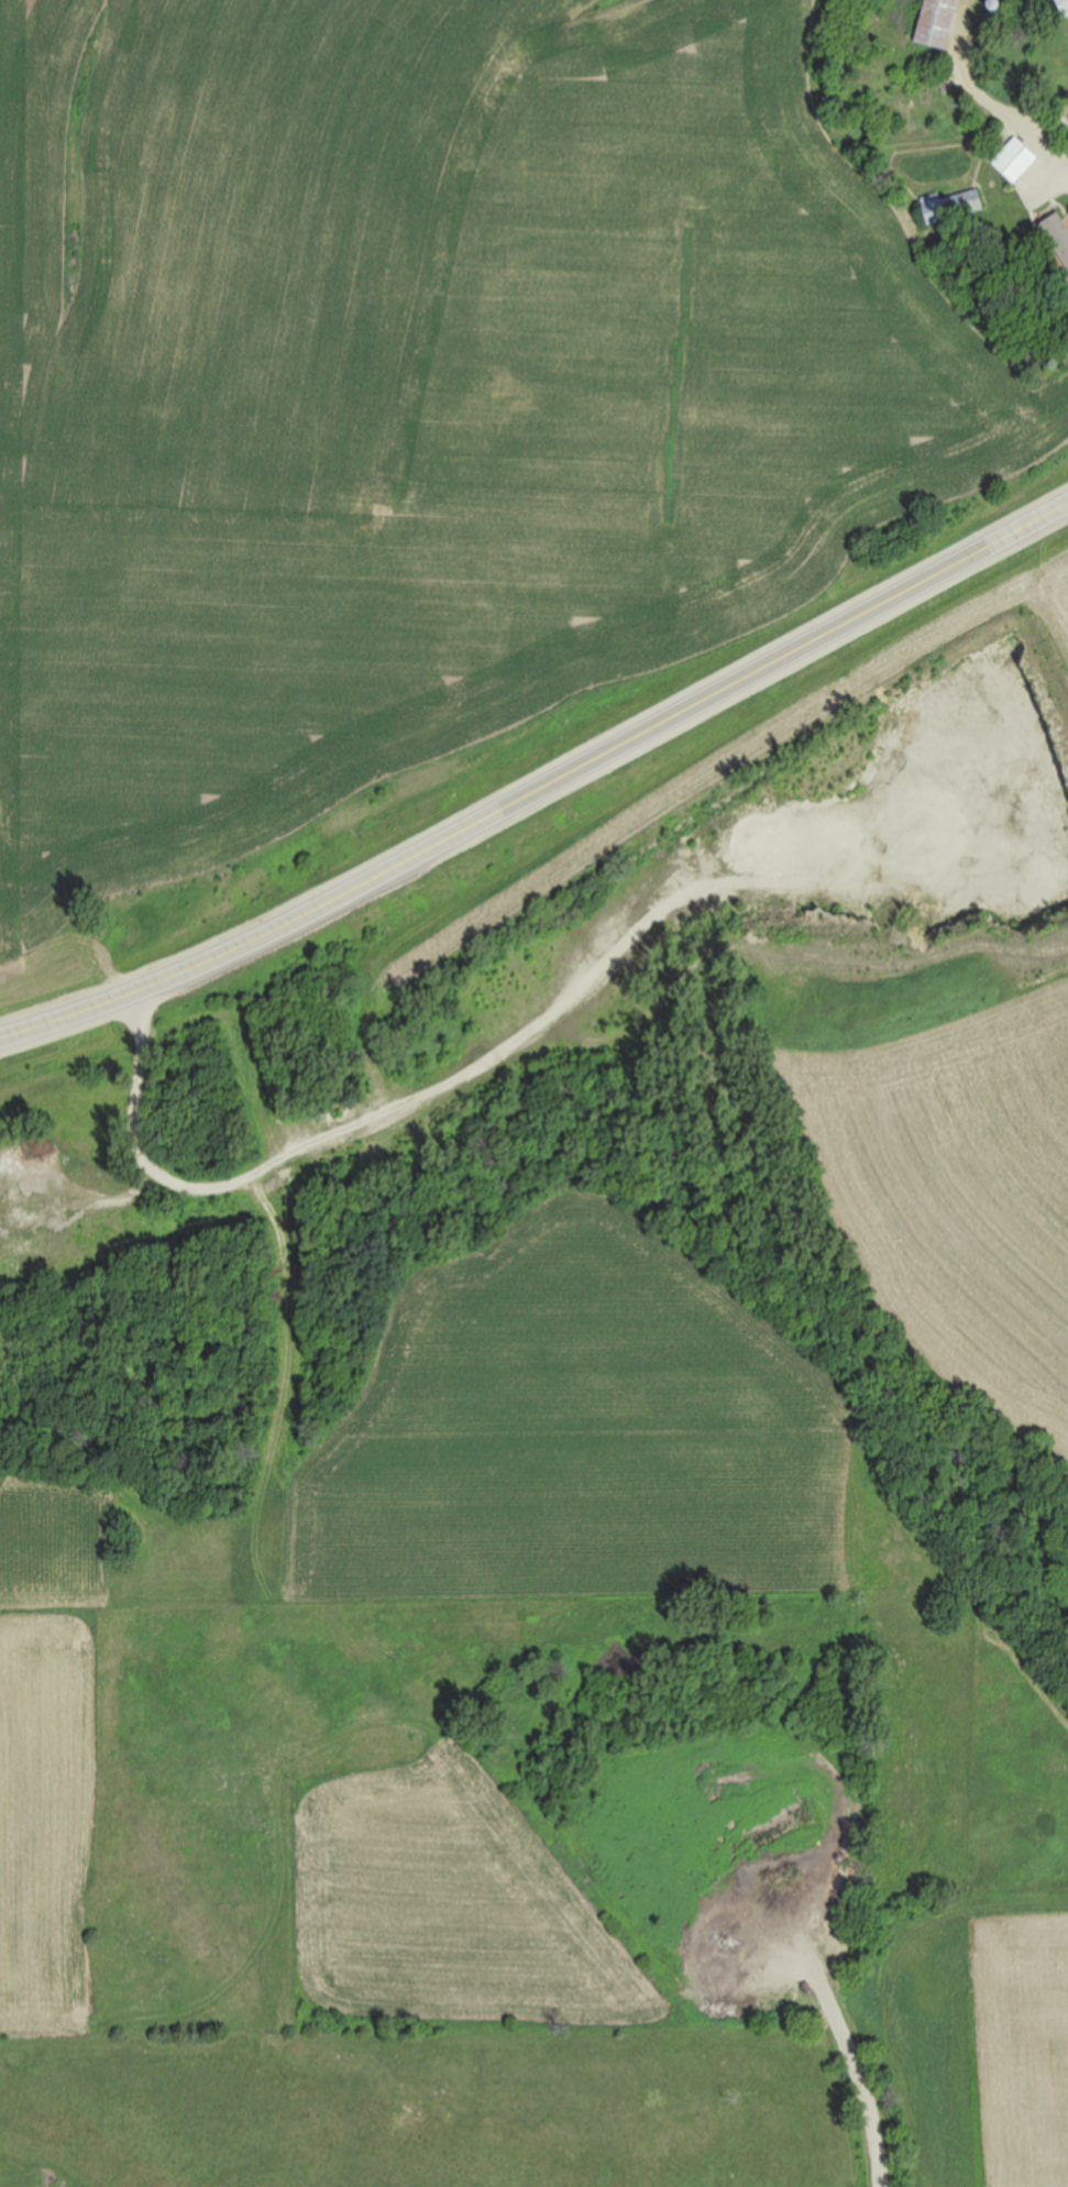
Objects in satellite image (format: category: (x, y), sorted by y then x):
building: (1064, 7)
building: (938, 23)
road: (988, 98)
building: (1016, 160)
building: (951, 207)
building: (1058, 234)
building: (1017, 274)
road: (541, 792)

